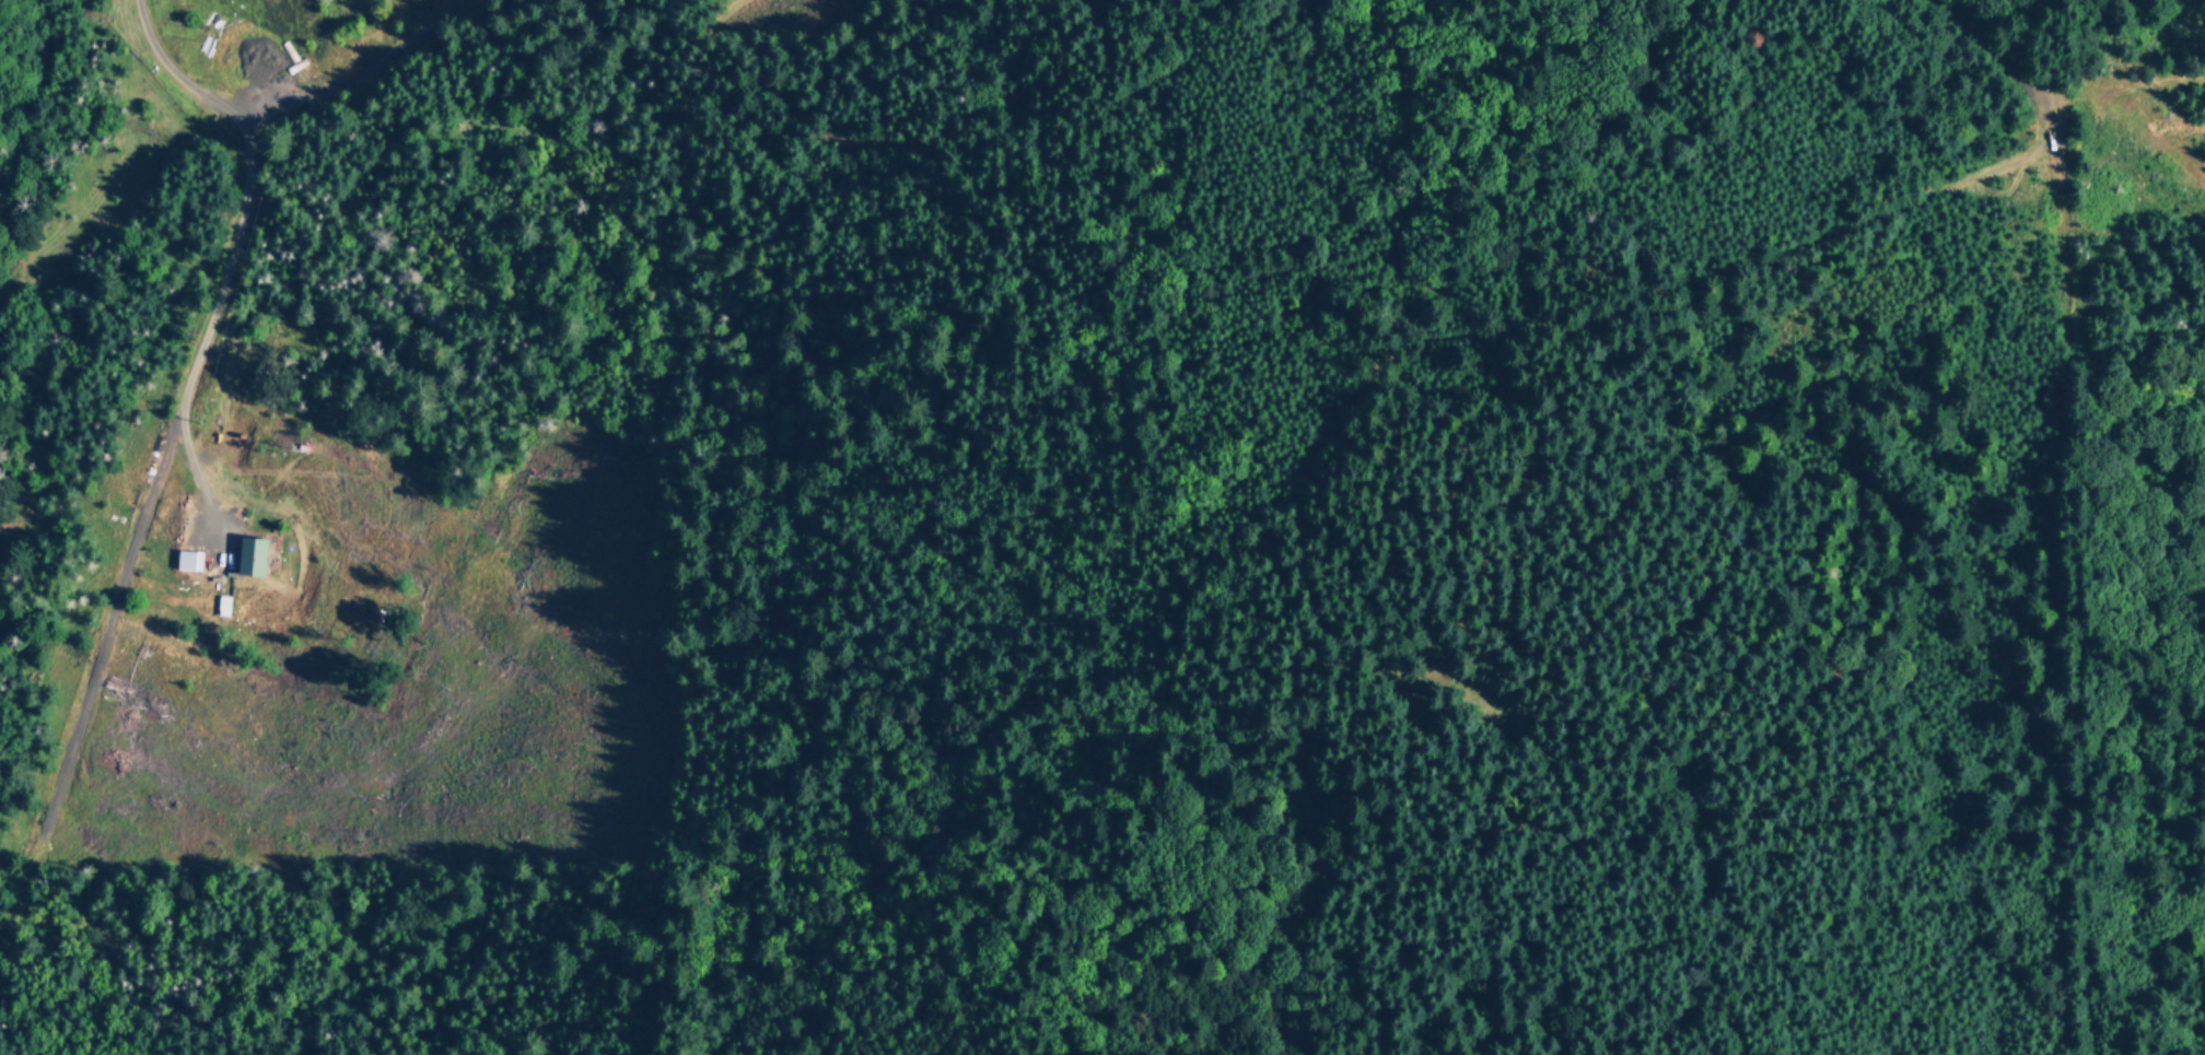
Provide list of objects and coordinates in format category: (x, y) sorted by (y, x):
road: (172, 72)
road: (210, 326)
building: (252, 555)
building: (188, 560)

